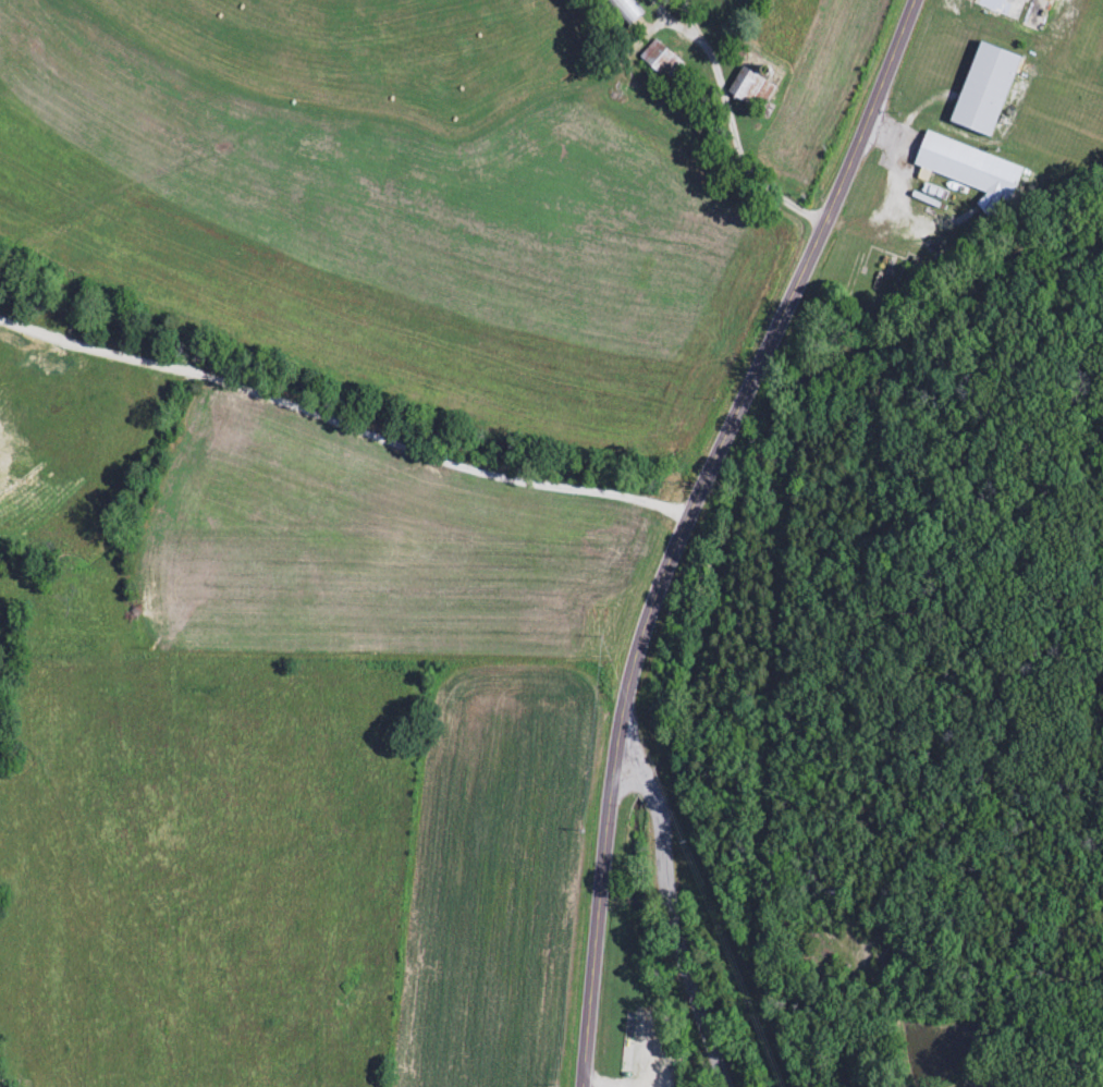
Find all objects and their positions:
building: (1001, 7)
building: (623, 11)
building: (660, 62)
building: (749, 91)
road: (722, 159)
building: (969, 170)
road: (691, 526)
road: (675, 919)

